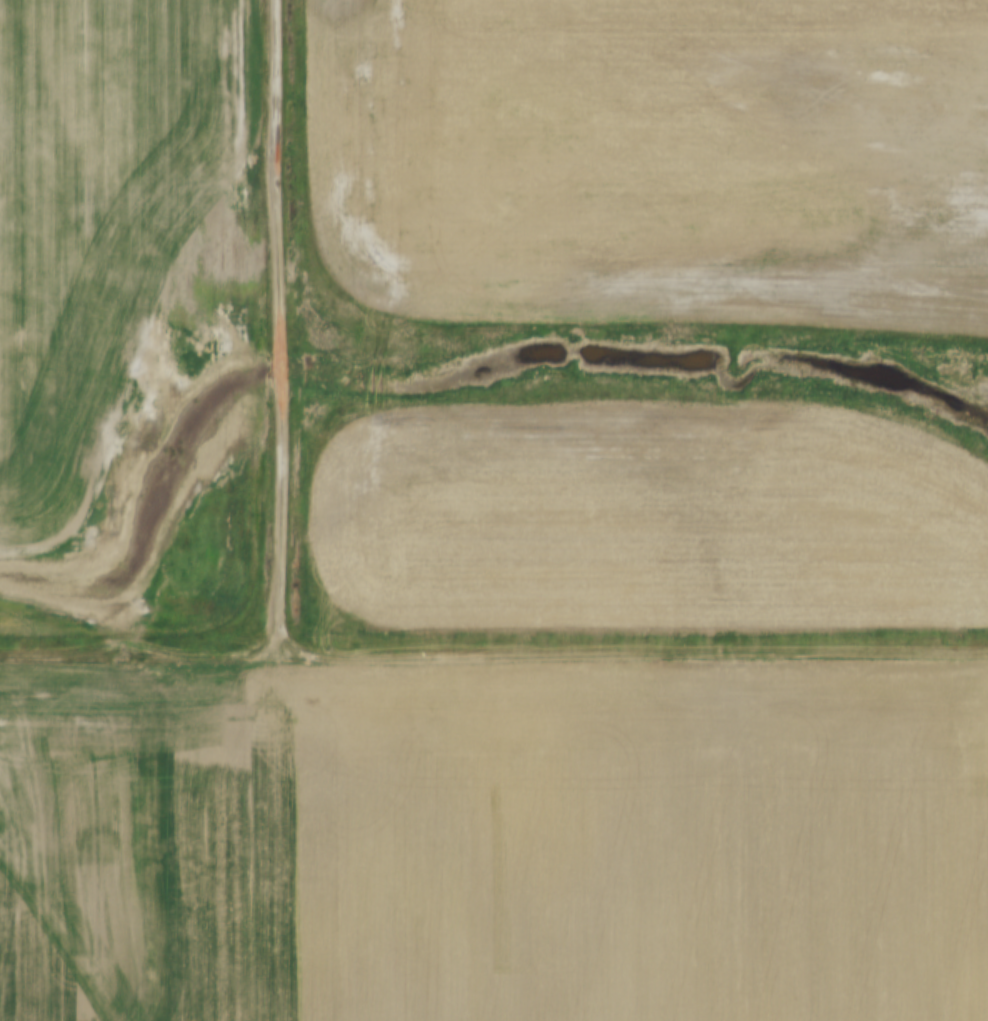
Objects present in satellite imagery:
road: (283, 333)
road: (493, 657)

